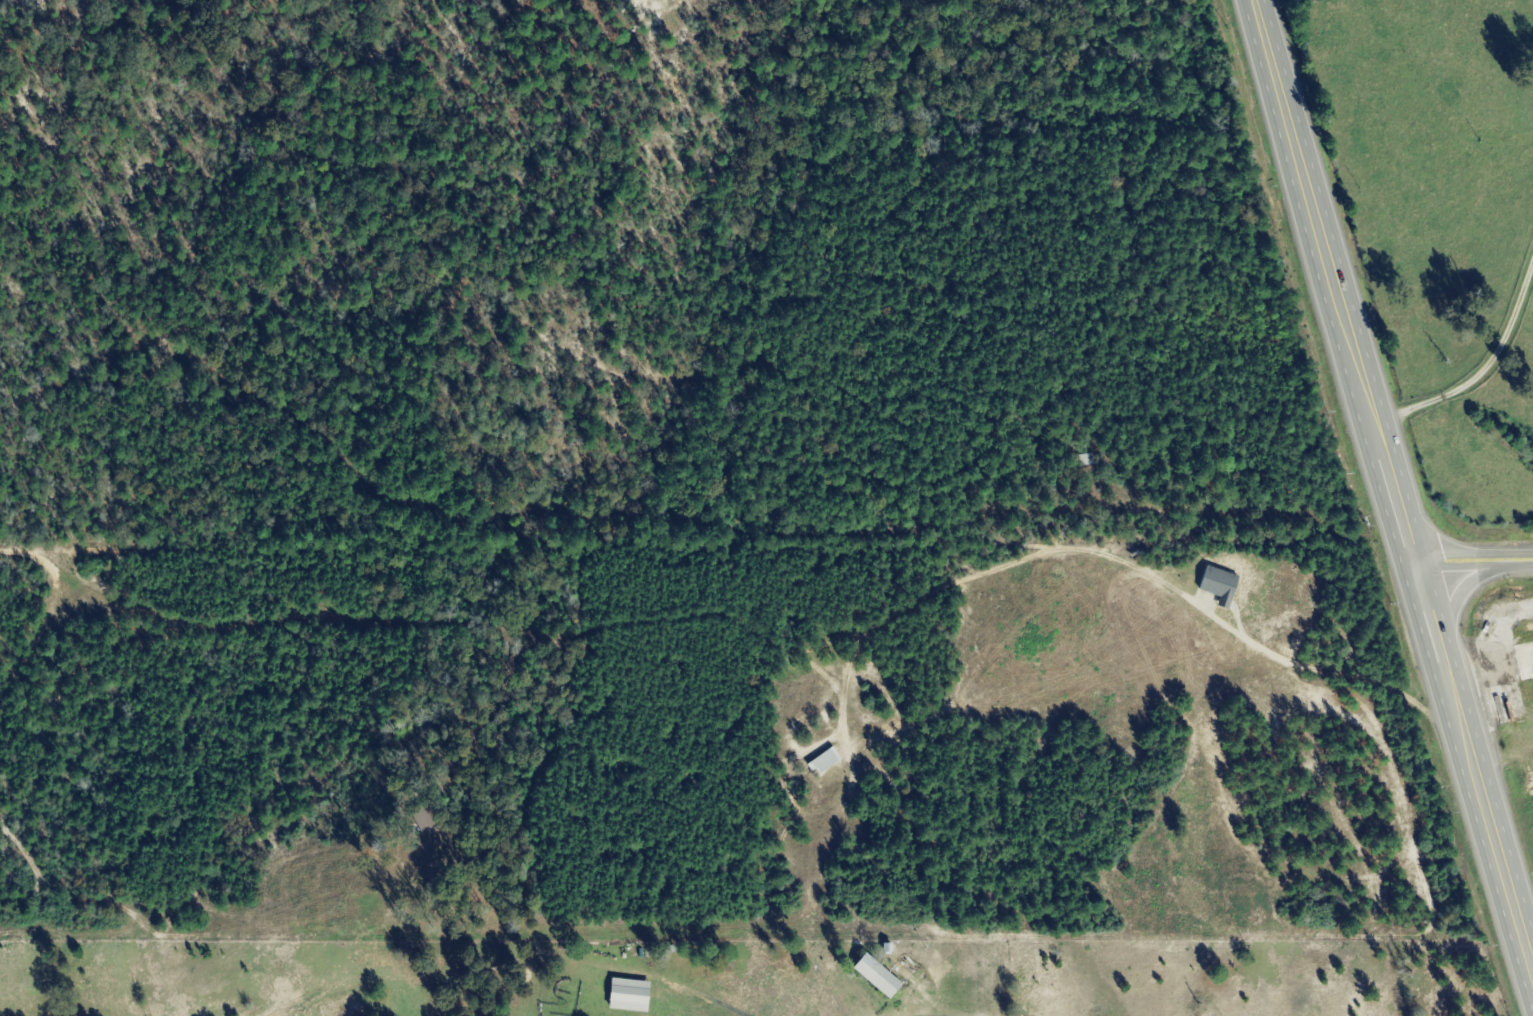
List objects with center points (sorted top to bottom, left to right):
road: (1316, 212)
road: (1468, 358)
road: (1393, 493)
road: (1472, 561)
road: (1456, 600)
road: (736, 619)
road: (1430, 627)
building: (1524, 661)
building: (821, 761)
road: (1491, 824)
building: (872, 975)
building: (625, 994)

